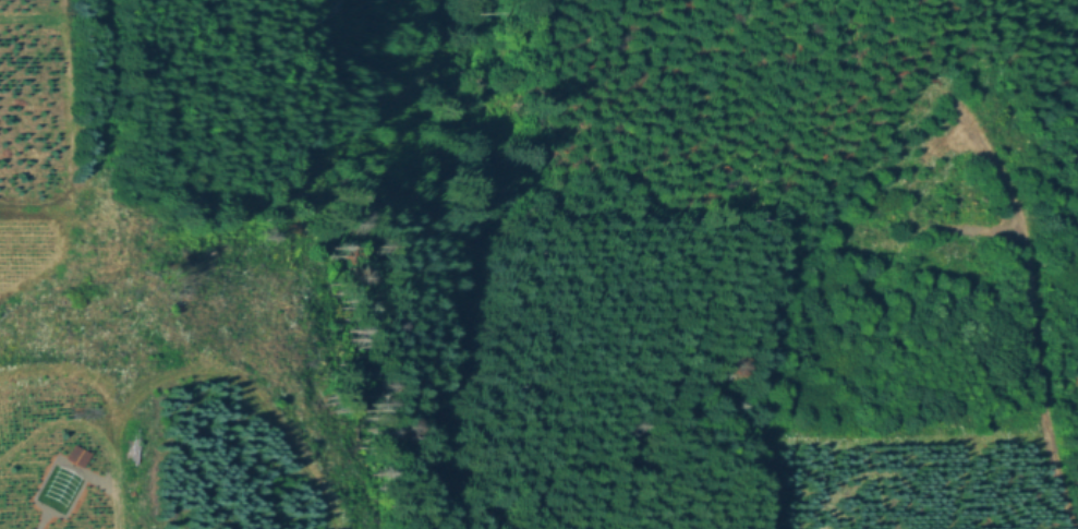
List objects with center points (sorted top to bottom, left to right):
road: (1032, 341)

